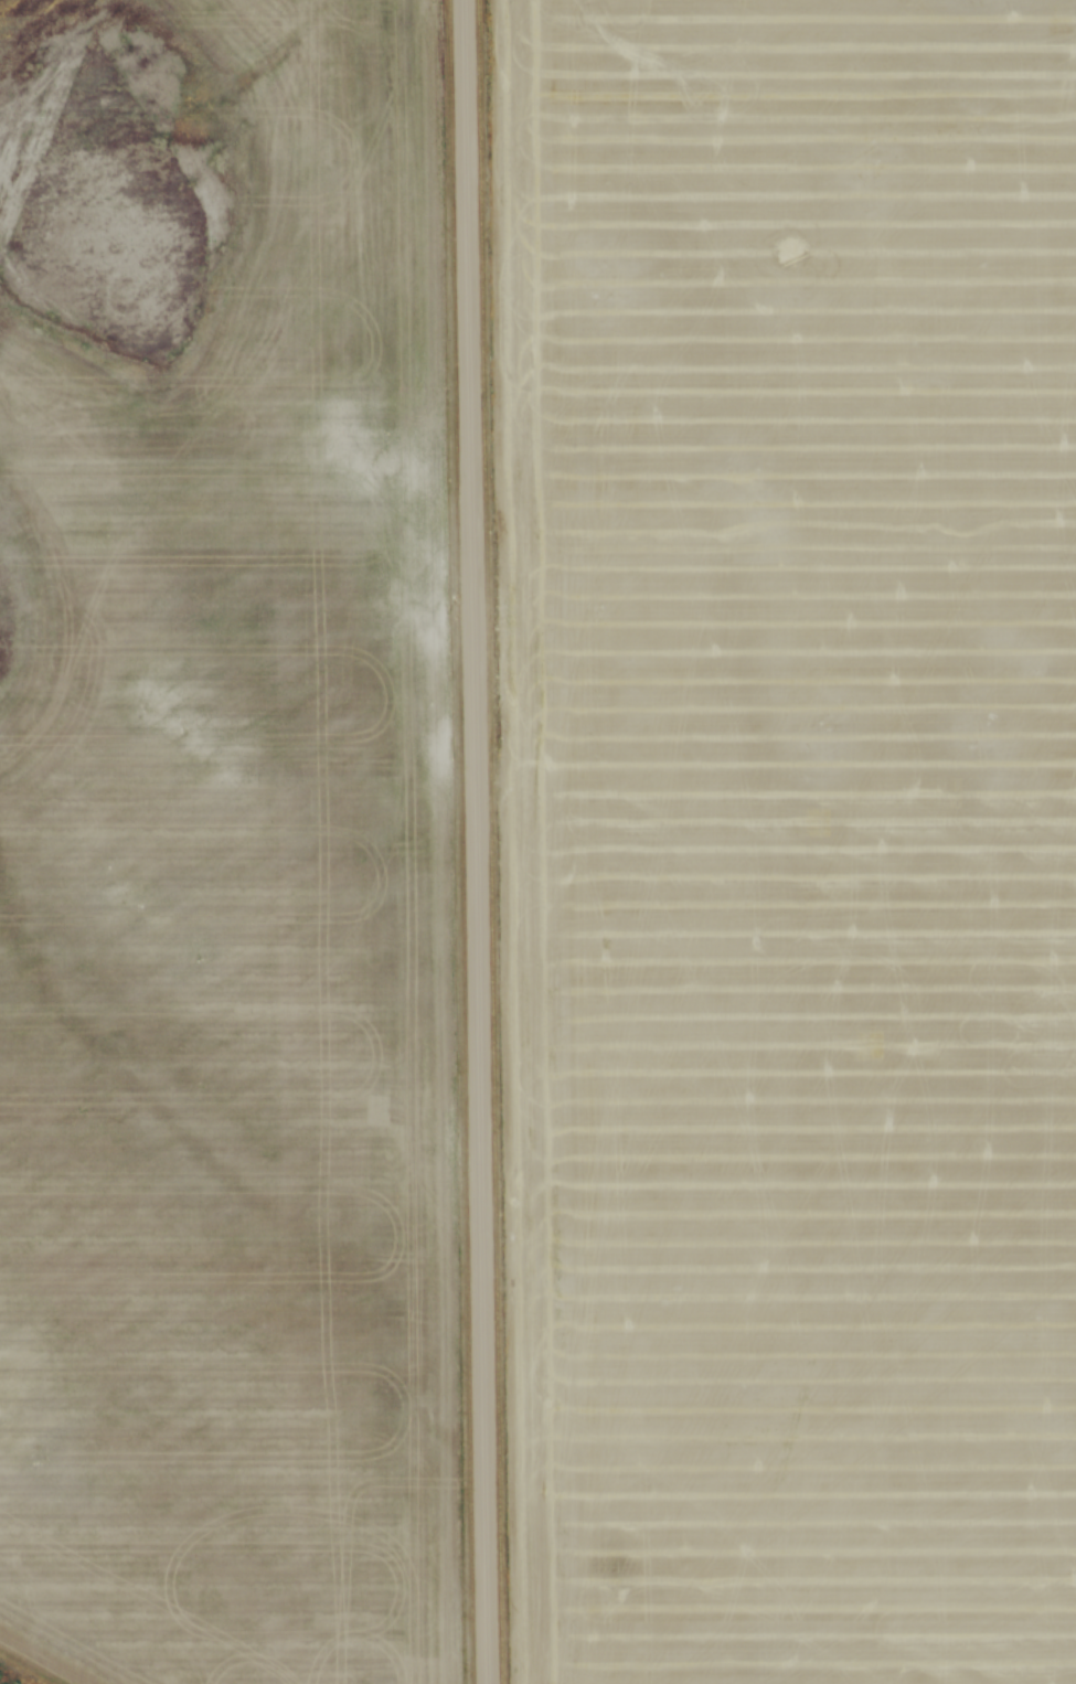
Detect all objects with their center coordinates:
crop: (787, 836)
road: (472, 842)
crop: (238, 929)

